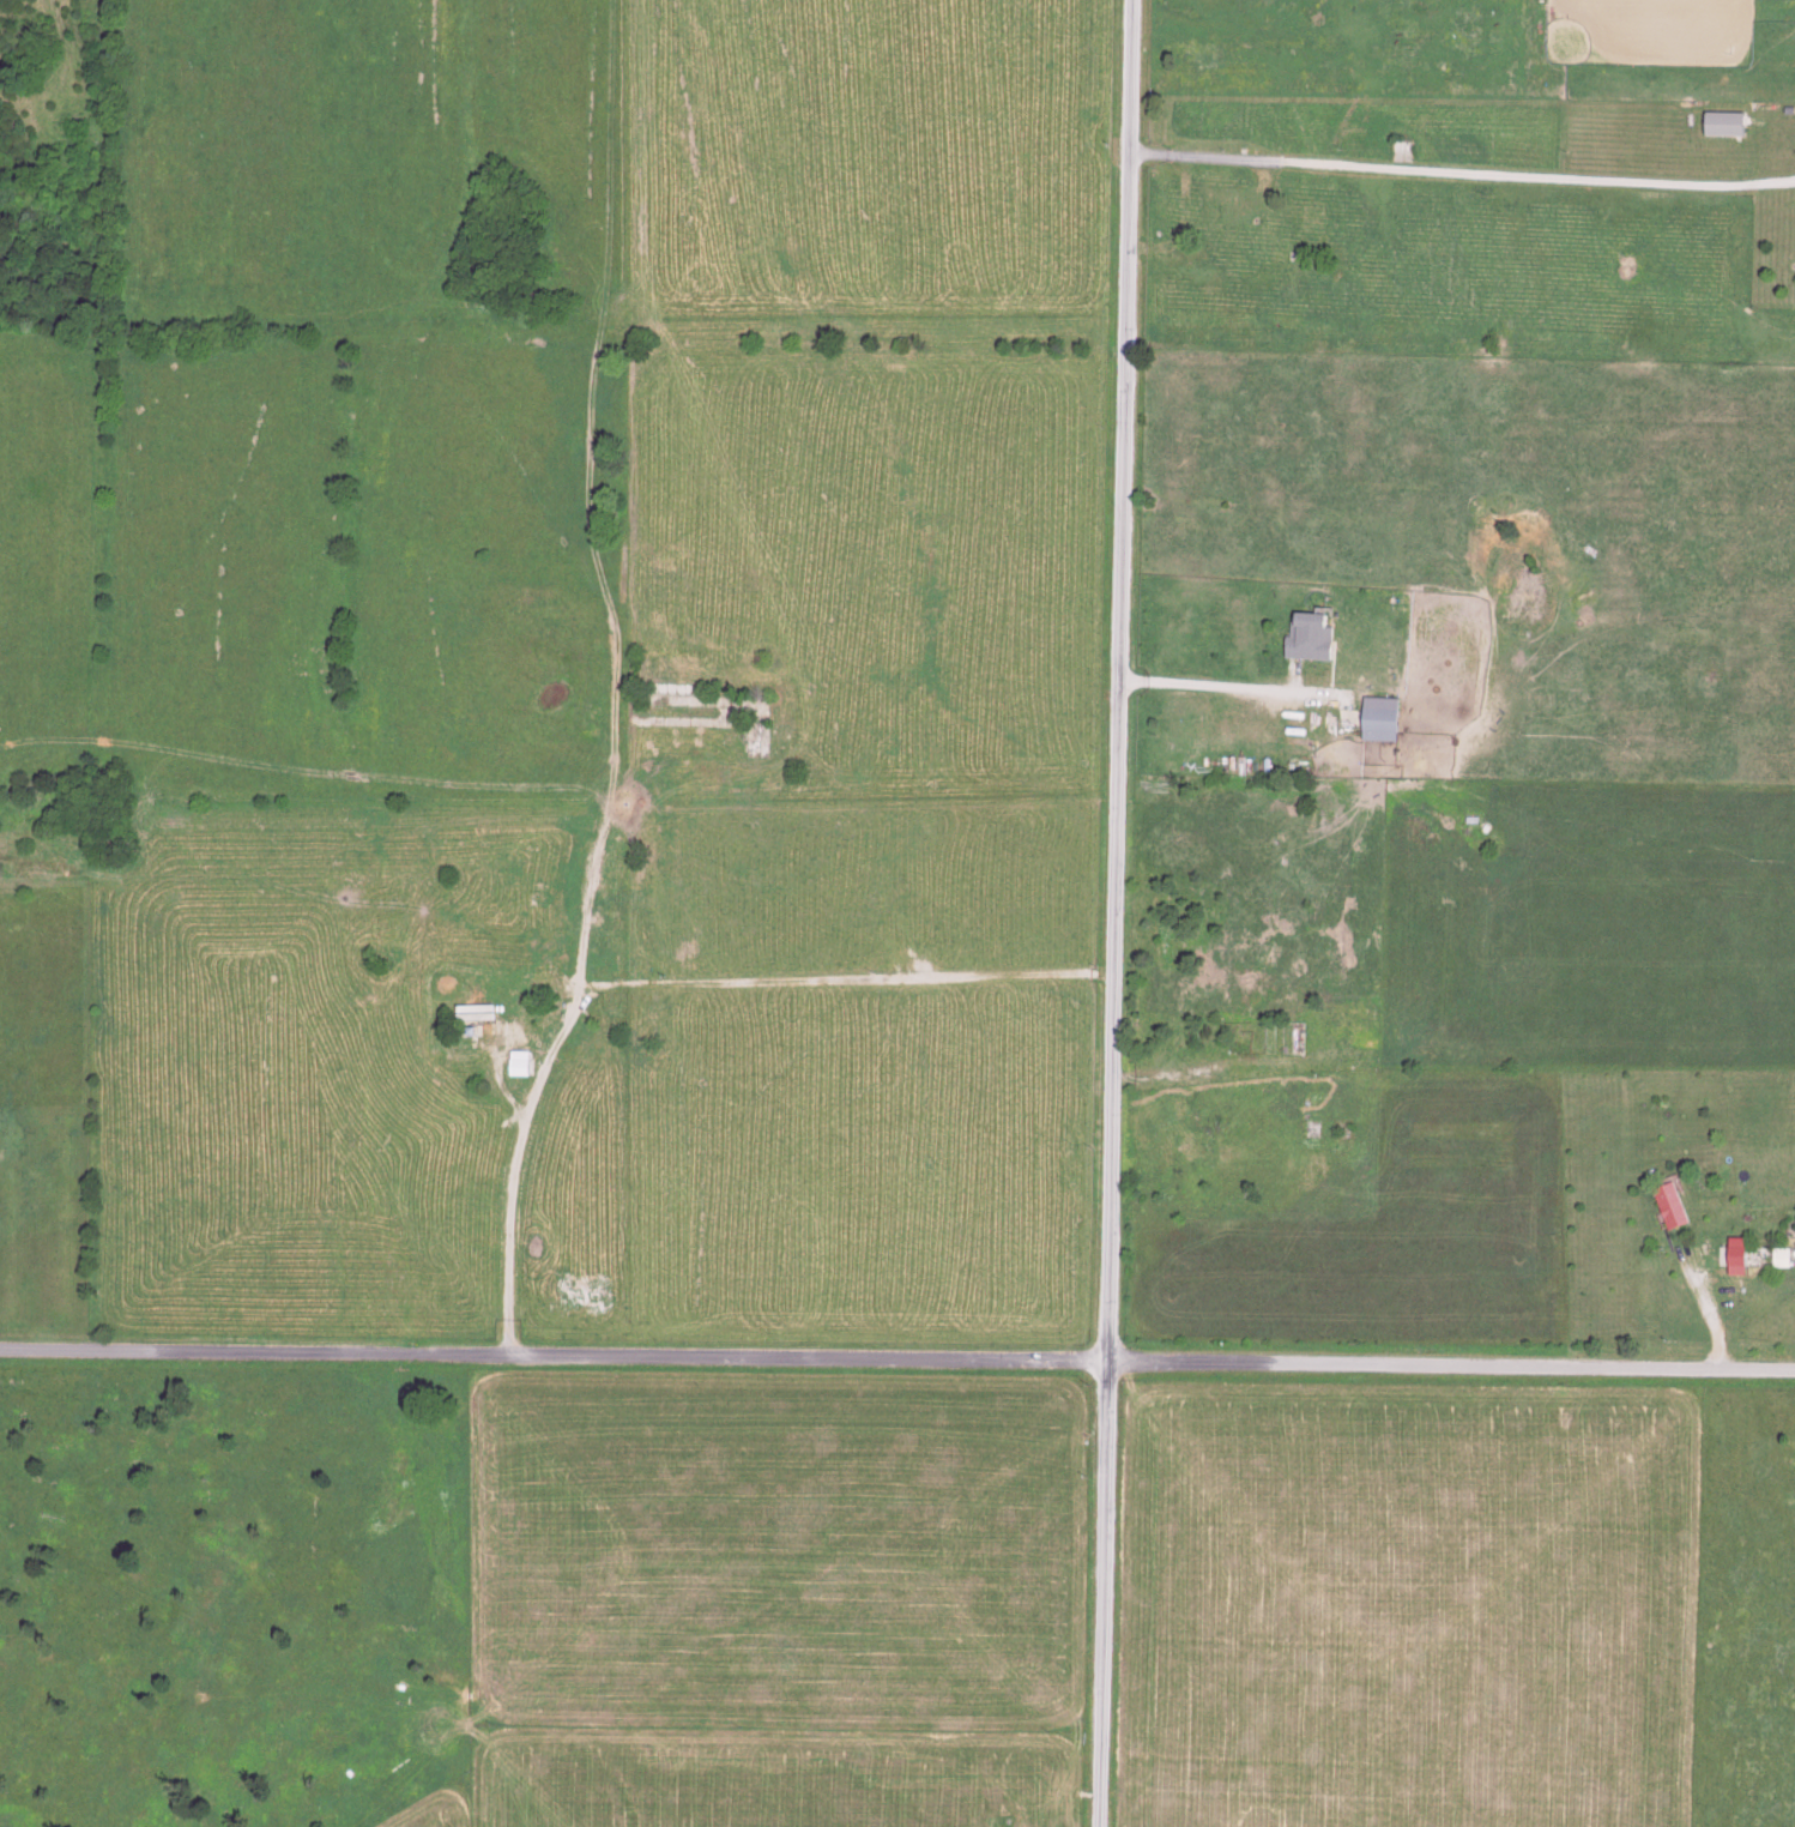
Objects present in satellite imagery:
building: (1722, 125)
building: (1402, 151)
road: (1461, 170)
building: (1307, 638)
road: (1117, 682)
road: (1205, 686)
building: (1377, 720)
road: (654, 988)
building: (1668, 1207)
road: (1710, 1310)
road: (551, 1357)
road: (1449, 1367)
road: (1101, 1596)

